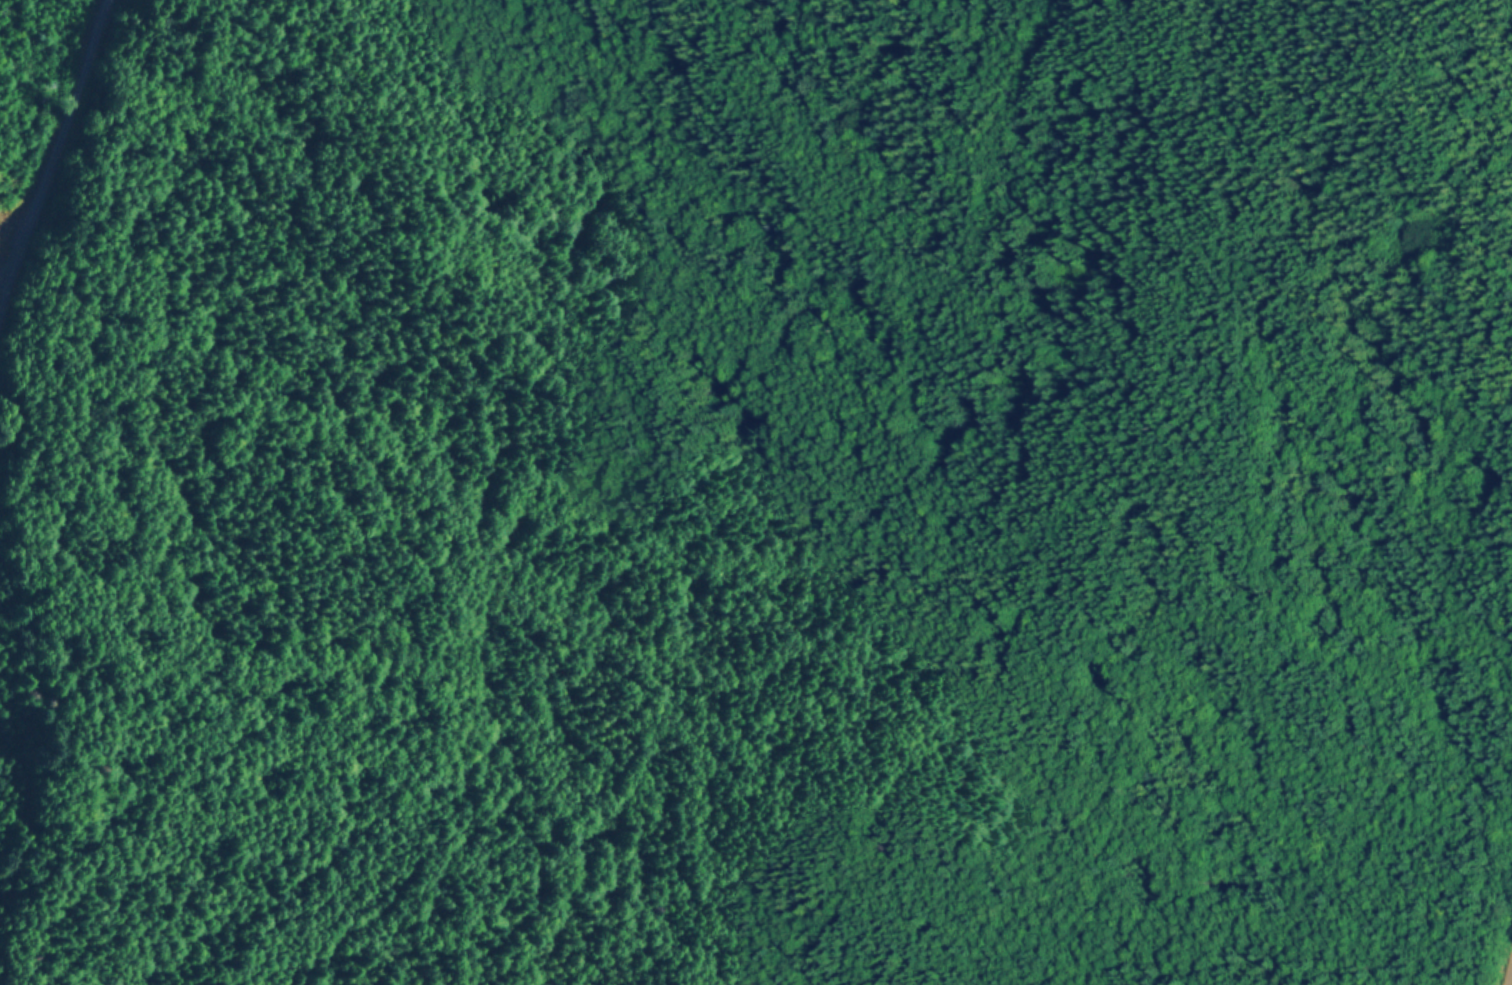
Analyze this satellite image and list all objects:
road: (56, 179)

